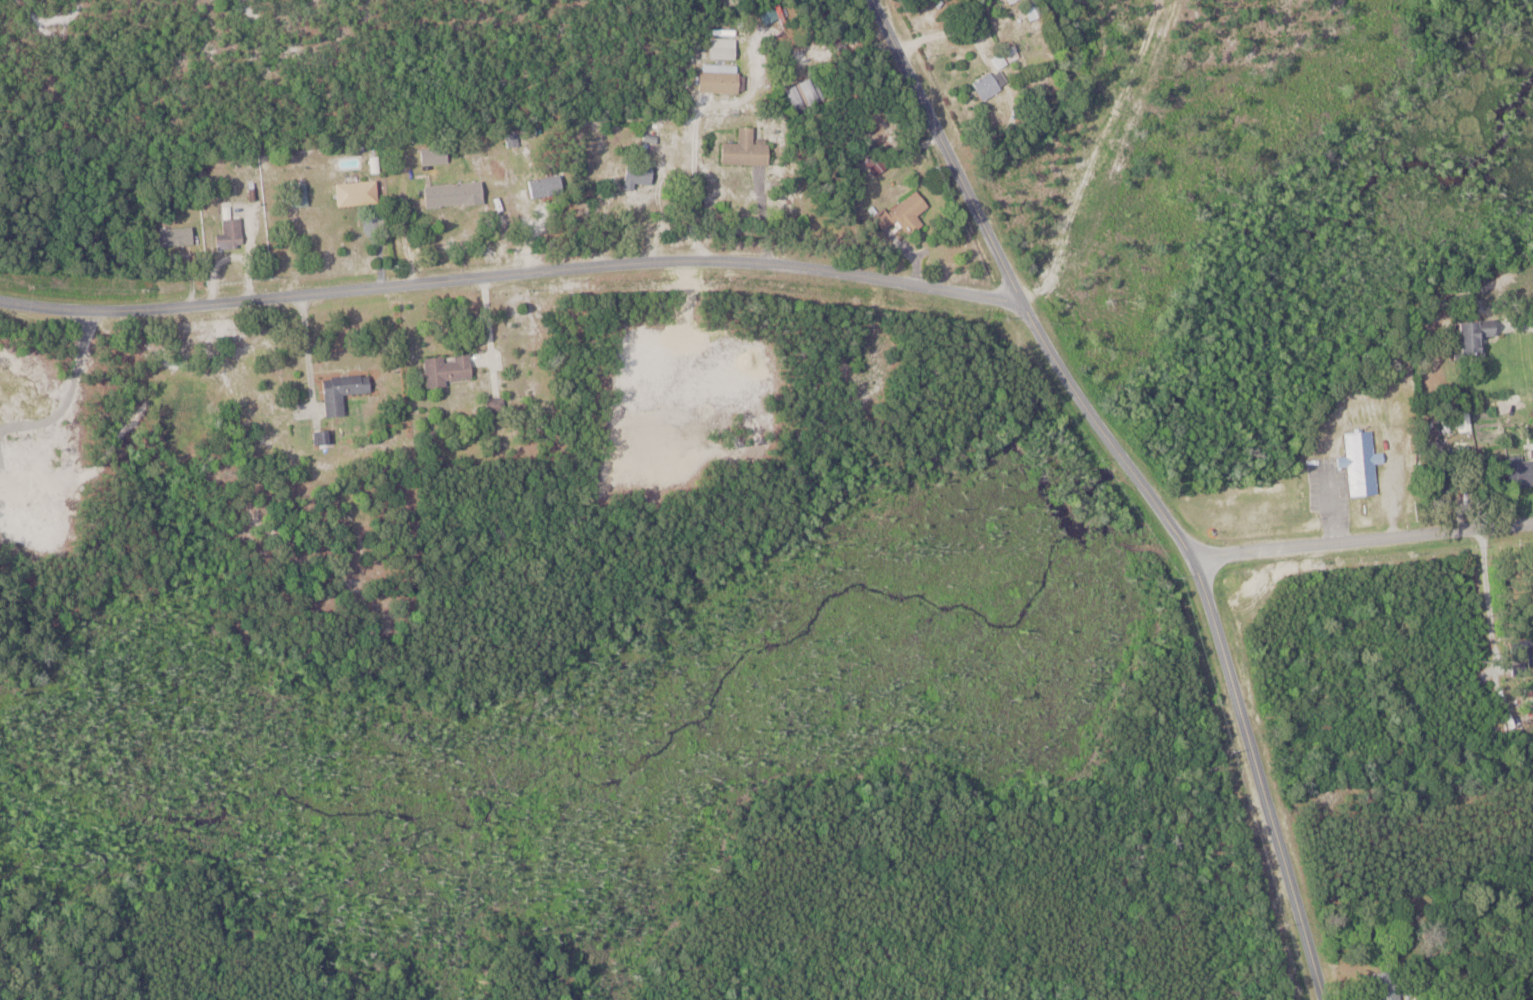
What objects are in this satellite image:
building: (1002, 60)
building: (723, 78)
building: (994, 82)
building: (814, 92)
building: (516, 139)
building: (750, 148)
building: (440, 154)
building: (880, 163)
building: (642, 173)
building: (549, 185)
building: (360, 192)
building: (457, 193)
building: (912, 212)
road: (764, 217)
building: (180, 232)
road: (509, 274)
road: (487, 329)
road: (1522, 331)
building: (1483, 335)
road: (307, 350)
building: (451, 366)
building: (346, 389)
building: (324, 435)
building: (1365, 462)
building: (1526, 472)
road: (1140, 482)
road: (1362, 540)
road: (1486, 600)
building: (1394, 985)

